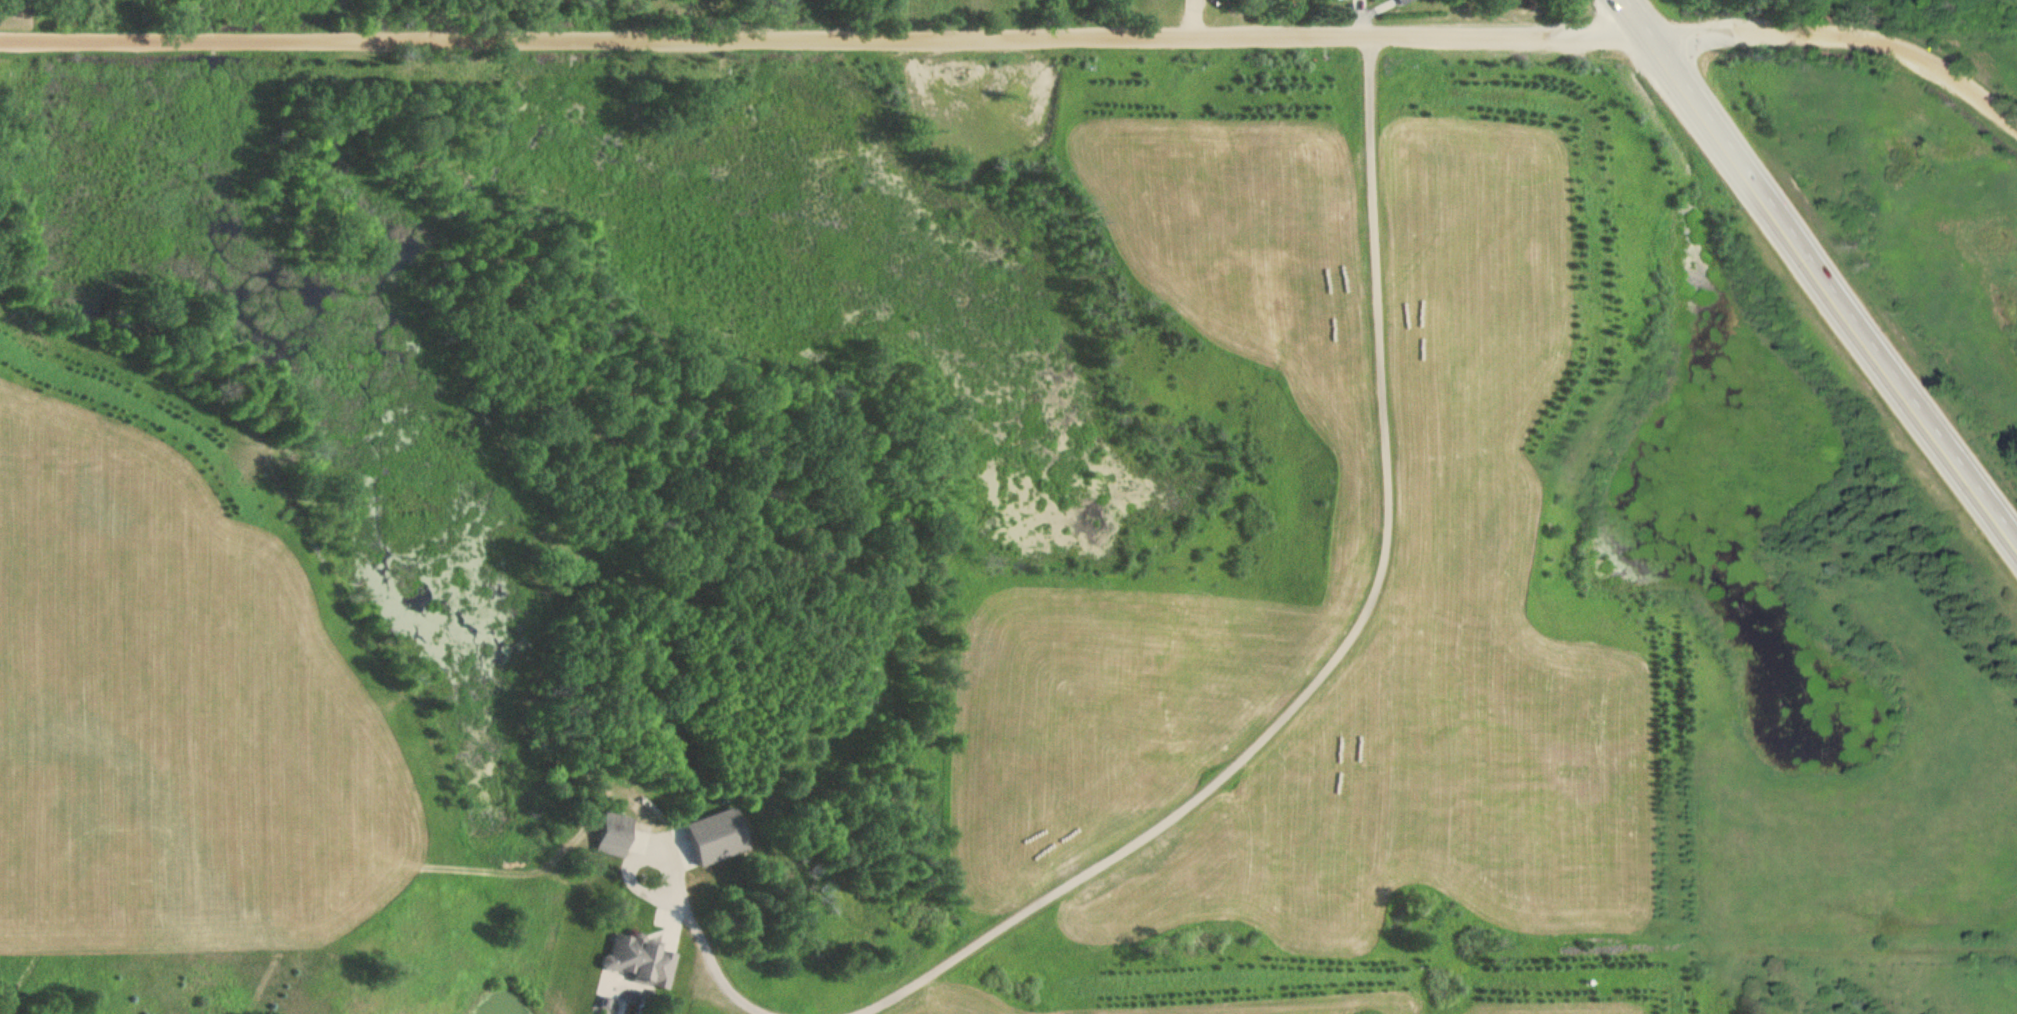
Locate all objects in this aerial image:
building: (1404, 1)
road: (1358, 9)
road: (1359, 14)
road: (1192, 16)
road: (1021, 33)
road: (1820, 268)
road: (1341, 642)
building: (611, 830)
building: (713, 833)
road: (632, 854)
building: (636, 954)
road: (716, 972)
building: (602, 998)

